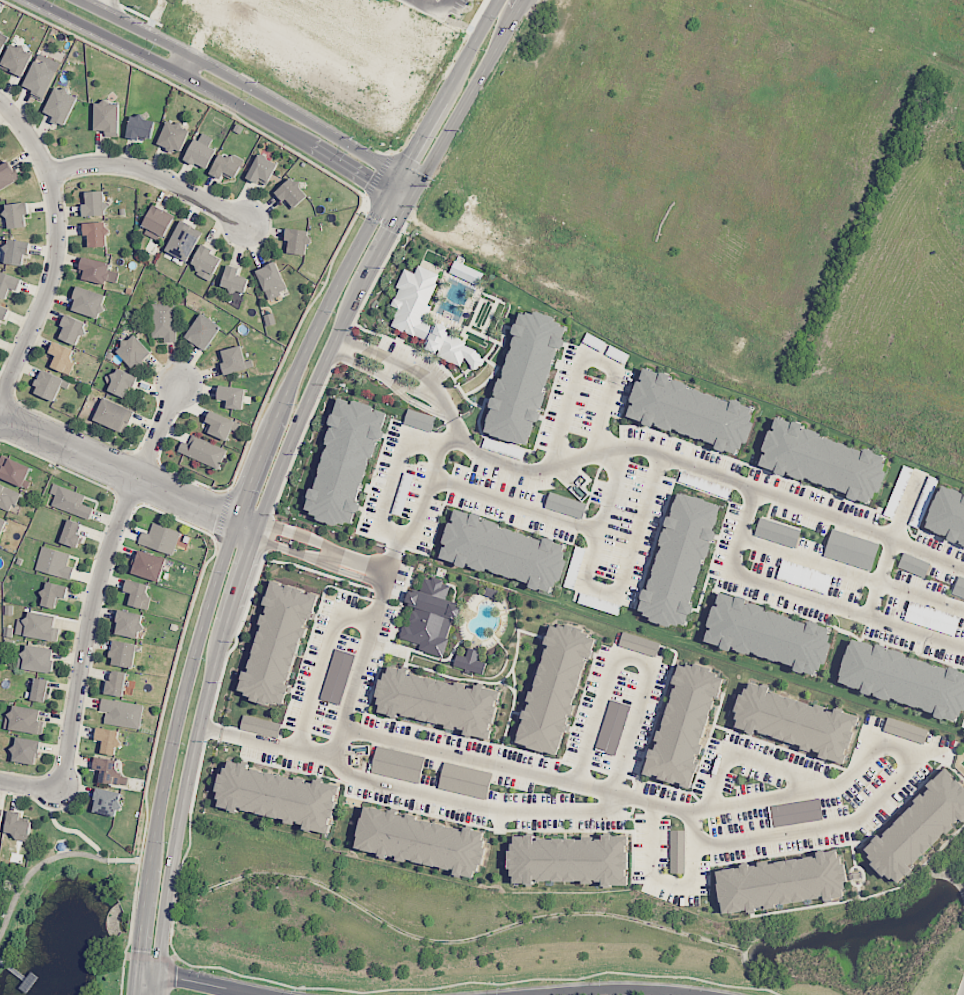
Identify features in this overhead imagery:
road: (103, 5)
street lamp: (496, 17)
building: (2, 47)
street lamp: (484, 50)
building: (19, 59)
road: (187, 66)
building: (43, 79)
road: (250, 87)
road: (219, 95)
building: (64, 104)
building: (110, 118)
building: (143, 127)
building: (177, 135)
street lamp: (435, 137)
building: (201, 154)
traffic signals: (409, 157)
building: (228, 166)
building: (262, 169)
road: (152, 173)
building: (6, 174)
traffic signals: (368, 183)
building: (294, 193)
building: (96, 202)
building: (18, 214)
building: (161, 220)
street lamp: (379, 223)
traffic signals: (391, 232)
building: (98, 233)
building: (300, 239)
building: (186, 240)
road: (56, 247)
building: (18, 250)
building: (210, 261)
building: (95, 270)
building: (466, 273)
building: (272, 279)
building: (237, 280)
building: (9, 284)
building: (91, 302)
street lamp: (333, 312)
building: (4, 313)
building: (410, 315)
building: (165, 321)
building: (75, 328)
building: (207, 331)
road: (340, 348)
building: (136, 351)
building: (64, 355)
road: (586, 359)
building: (237, 361)
road: (390, 363)
road: (387, 369)
road: (383, 374)
building: (525, 376)
building: (126, 382)
building: (52, 383)
building: (232, 396)
road: (439, 402)
street lamp: (296, 403)
building: (690, 411)
building: (117, 414)
building: (419, 420)
building: (221, 425)
road: (457, 425)
road: (604, 450)
building: (203, 451)
building: (821, 460)
road: (258, 462)
building: (345, 462)
road: (393, 468)
building: (13, 470)
road: (127, 473)
road: (278, 475)
street lamp: (261, 491)
building: (897, 492)
building: (8, 497)
road: (424, 501)
building: (71, 502)
building: (565, 505)
road: (906, 507)
building: (948, 514)
road: (559, 519)
road: (860, 526)
building: (3, 528)
building: (777, 532)
building: (74, 534)
building: (162, 539)
road: (637, 544)
building: (851, 549)
building: (503, 551)
road: (335, 555)
road: (592, 557)
road: (810, 558)
road: (388, 559)
building: (680, 559)
building: (56, 563)
building: (914, 565)
building: (152, 566)
street lamp: (227, 572)
building: (804, 576)
road: (881, 577)
road: (98, 581)
building: (959, 587)
building: (139, 593)
building: (56, 595)
road: (807, 595)
road: (922, 596)
building: (430, 617)
building: (932, 618)
building: (132, 624)
building: (44, 627)
building: (766, 634)
building: (639, 644)
building: (278, 645)
building: (126, 655)
street lamp: (202, 657)
road: (633, 658)
building: (40, 660)
building: (470, 662)
road: (324, 664)
building: (337, 677)
building: (902, 679)
building: (120, 684)
building: (554, 687)
building: (43, 690)
building: (437, 701)
building: (124, 713)
building: (28, 720)
building: (796, 721)
building: (684, 724)
building: (260, 726)
building: (612, 727)
road: (210, 729)
building: (905, 730)
building: (111, 741)
street lamp: (181, 743)
road: (341, 743)
road: (412, 745)
building: (29, 751)
road: (748, 758)
building: (398, 764)
building: (109, 771)
building: (465, 780)
road: (30, 785)
building: (280, 796)
building: (109, 802)
building: (795, 813)
building: (2, 817)
road: (694, 823)
building: (20, 824)
building: (919, 826)
road: (66, 829)
building: (421, 840)
street lamp: (165, 841)
building: (677, 851)
road: (55, 859)
building: (571, 861)
road: (656, 878)
building: (782, 883)
park: (65, 909)
road: (131, 928)
street lamp: (152, 948)
street lamp: (202, 970)
street lamp: (600, 979)
road: (134, 981)
road: (199, 981)
street lamp: (703, 985)
street lamp: (498, 987)
street lamp: (294, 989)
road: (610, 989)
street lamp: (396, 994)

